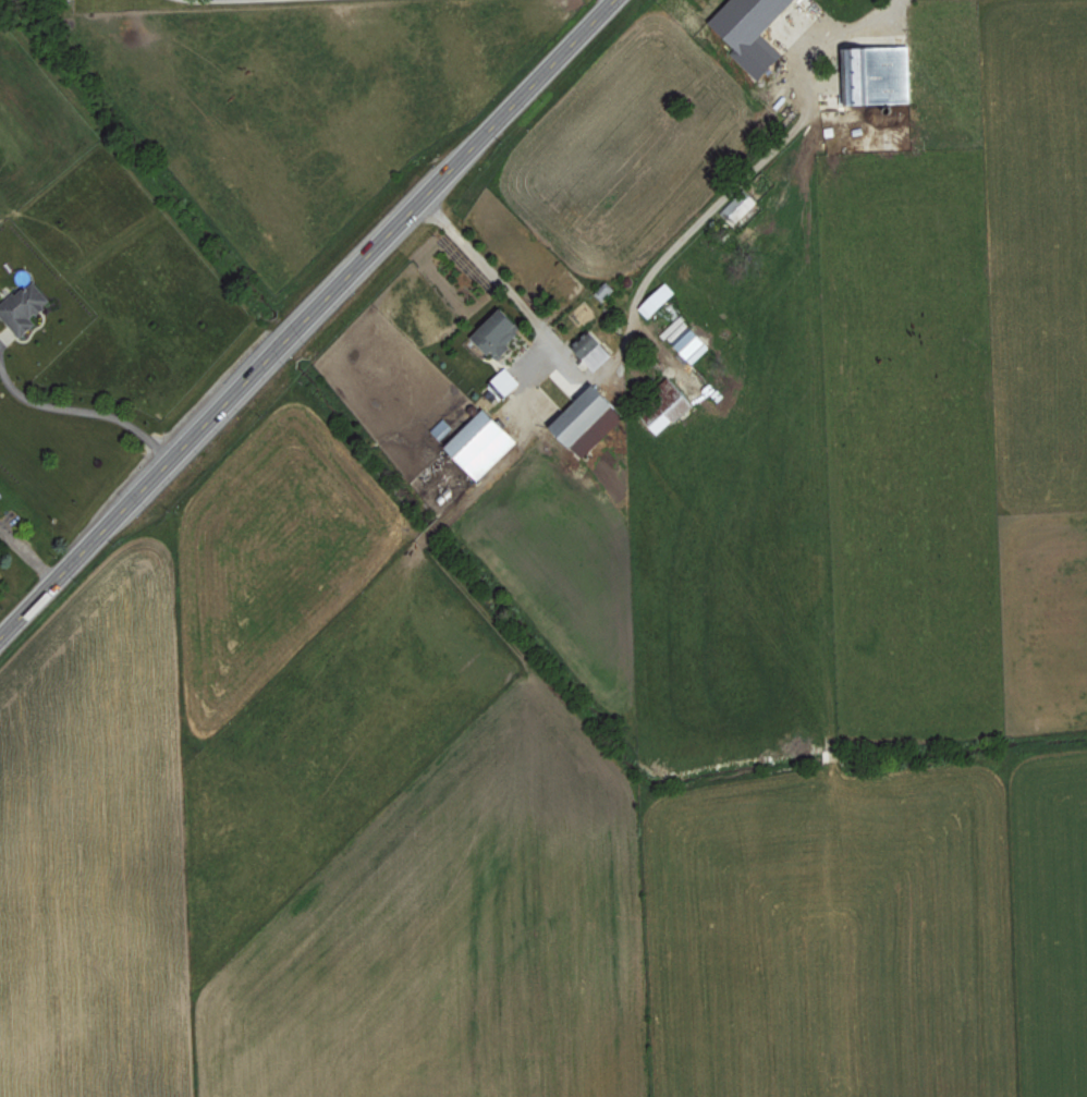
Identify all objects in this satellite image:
road: (203, 2)
building: (754, 32)
building: (881, 74)
building: (742, 207)
road: (648, 268)
building: (659, 300)
building: (25, 307)
road: (308, 321)
building: (501, 331)
building: (688, 338)
building: (591, 350)
building: (506, 381)
building: (670, 405)
building: (590, 419)
road: (85, 420)
building: (443, 428)
building: (485, 443)

